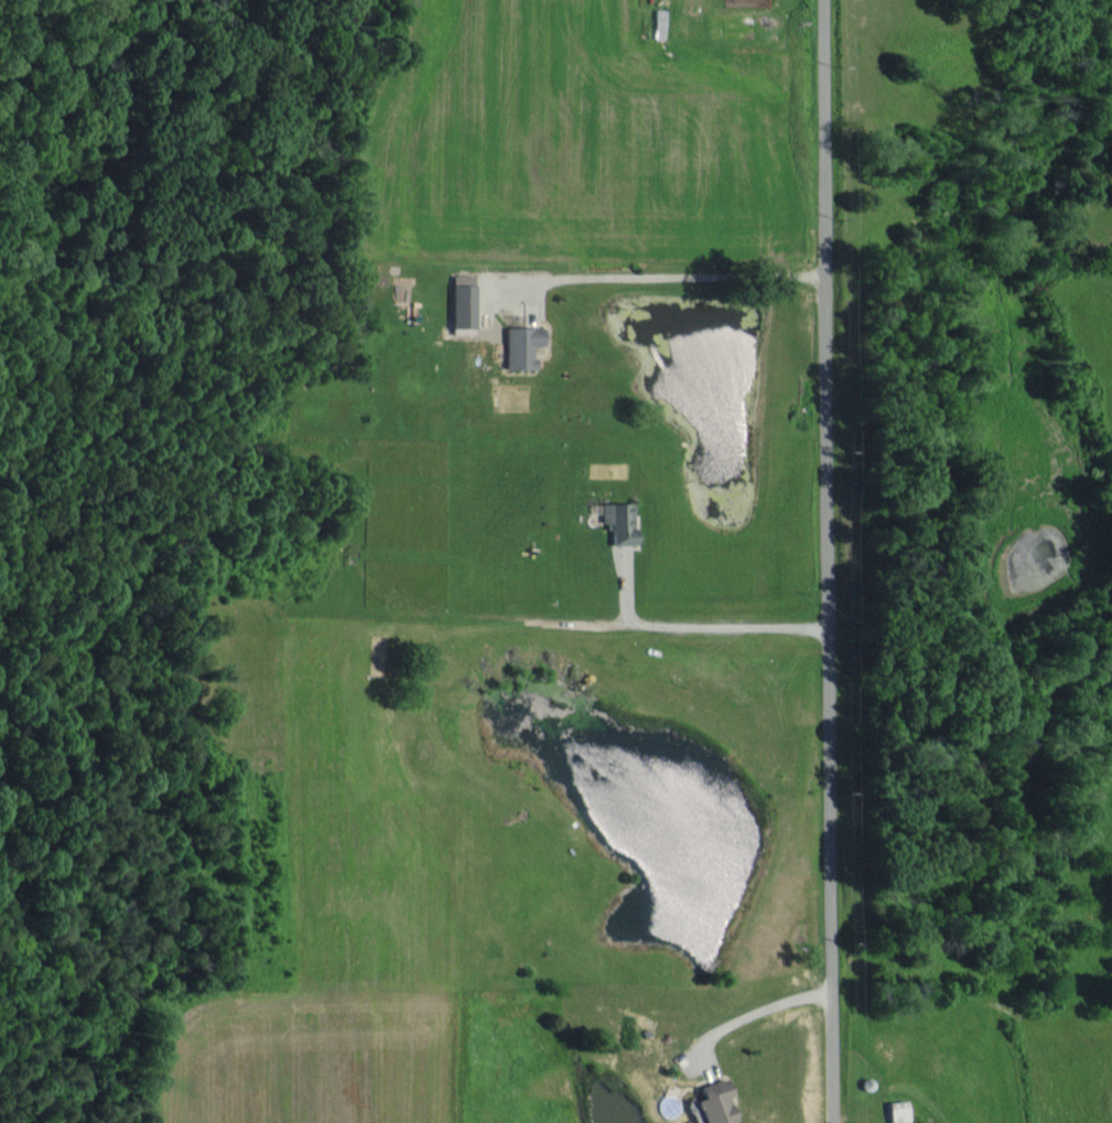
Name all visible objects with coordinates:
building: (461, 304)
building: (519, 347)
building: (618, 520)
road: (819, 561)
building: (714, 1102)
building: (894, 1111)

